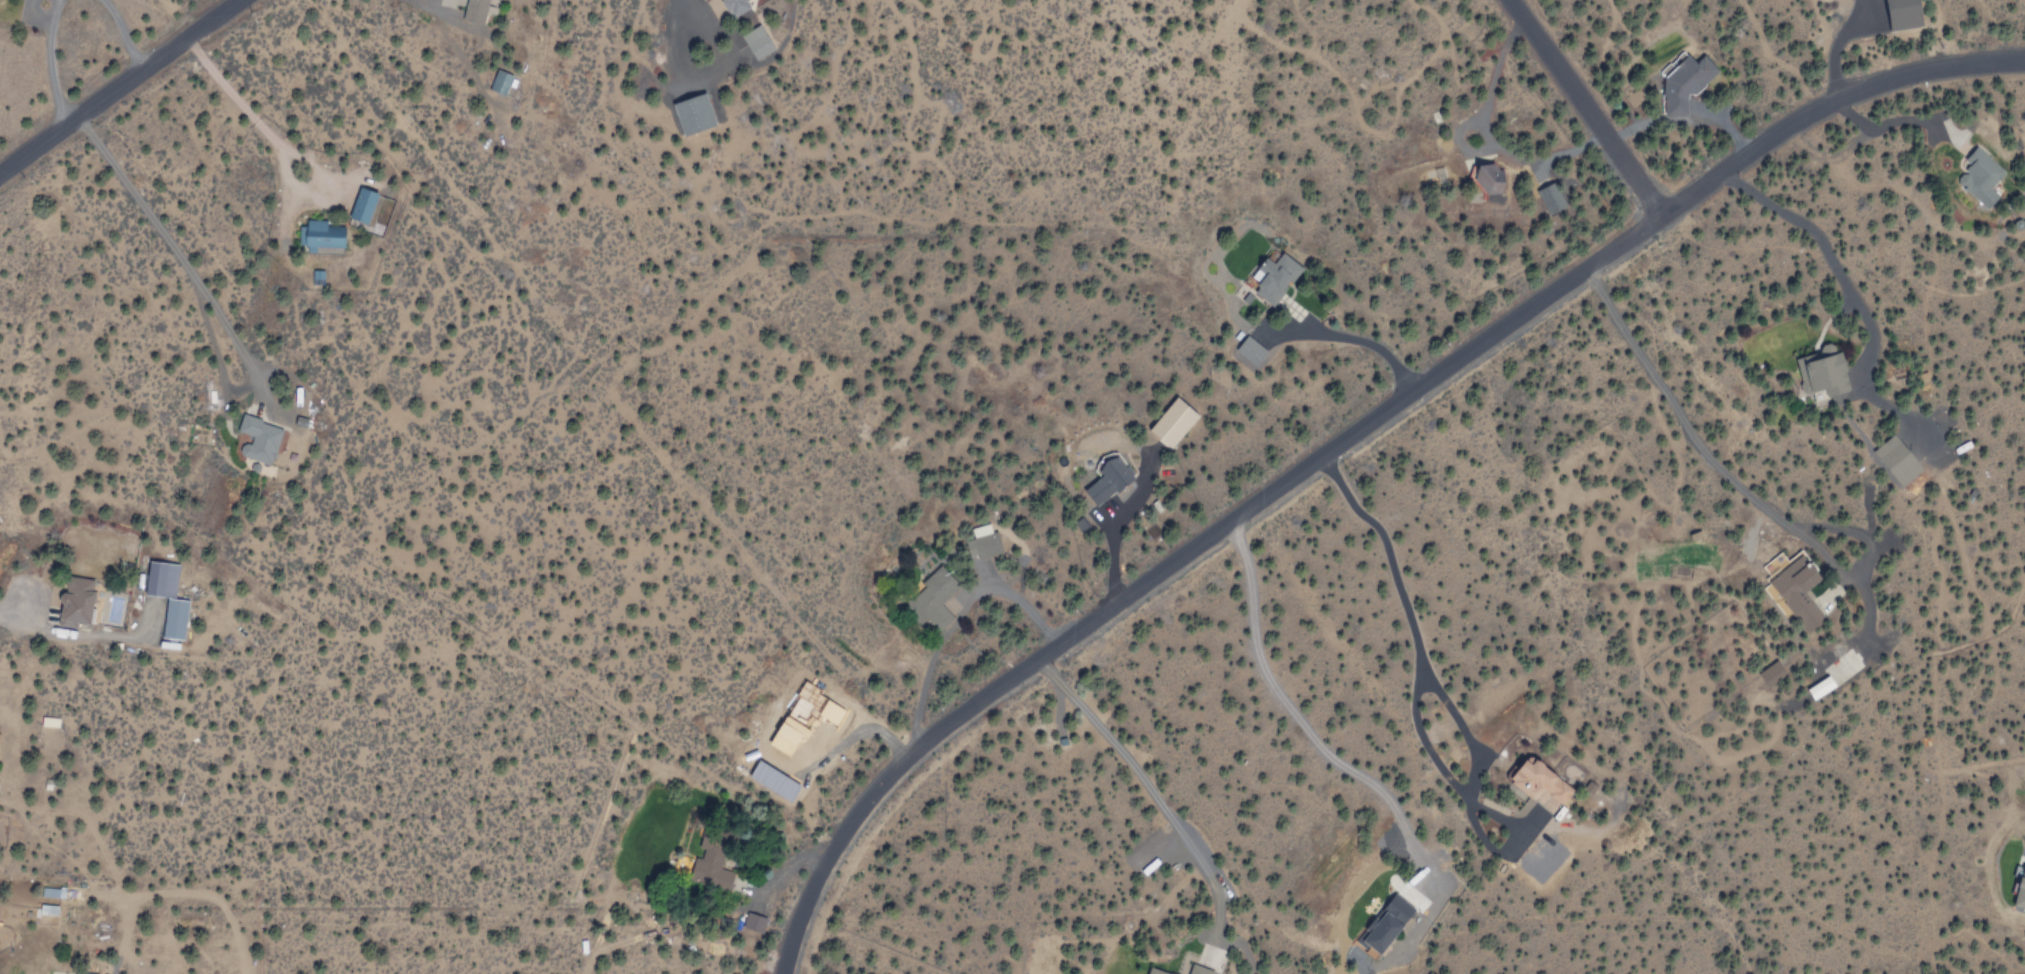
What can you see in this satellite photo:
building: (734, 7)
building: (473, 11)
building: (1905, 14)
building: (756, 43)
building: (1683, 80)
road: (113, 81)
building: (498, 83)
road: (1593, 105)
building: (692, 116)
building: (1488, 179)
building: (1979, 179)
building: (1544, 202)
building: (361, 206)
building: (321, 235)
building: (319, 277)
building: (1273, 279)
building: (1248, 350)
building: (1822, 372)
building: (1171, 422)
building: (257, 439)
road: (1345, 442)
building: (1896, 460)
building: (1107, 478)
building: (981, 542)
building: (1797, 591)
building: (933, 599)
building: (73, 603)
building: (173, 619)
building: (1768, 670)
building: (1823, 687)
building: (790, 733)
building: (0, 738)
building: (775, 781)
building: (1539, 784)
building: (709, 871)
building: (2020, 890)
building: (1392, 915)
building: (752, 922)
building: (1197, 970)
building: (1153, 972)

